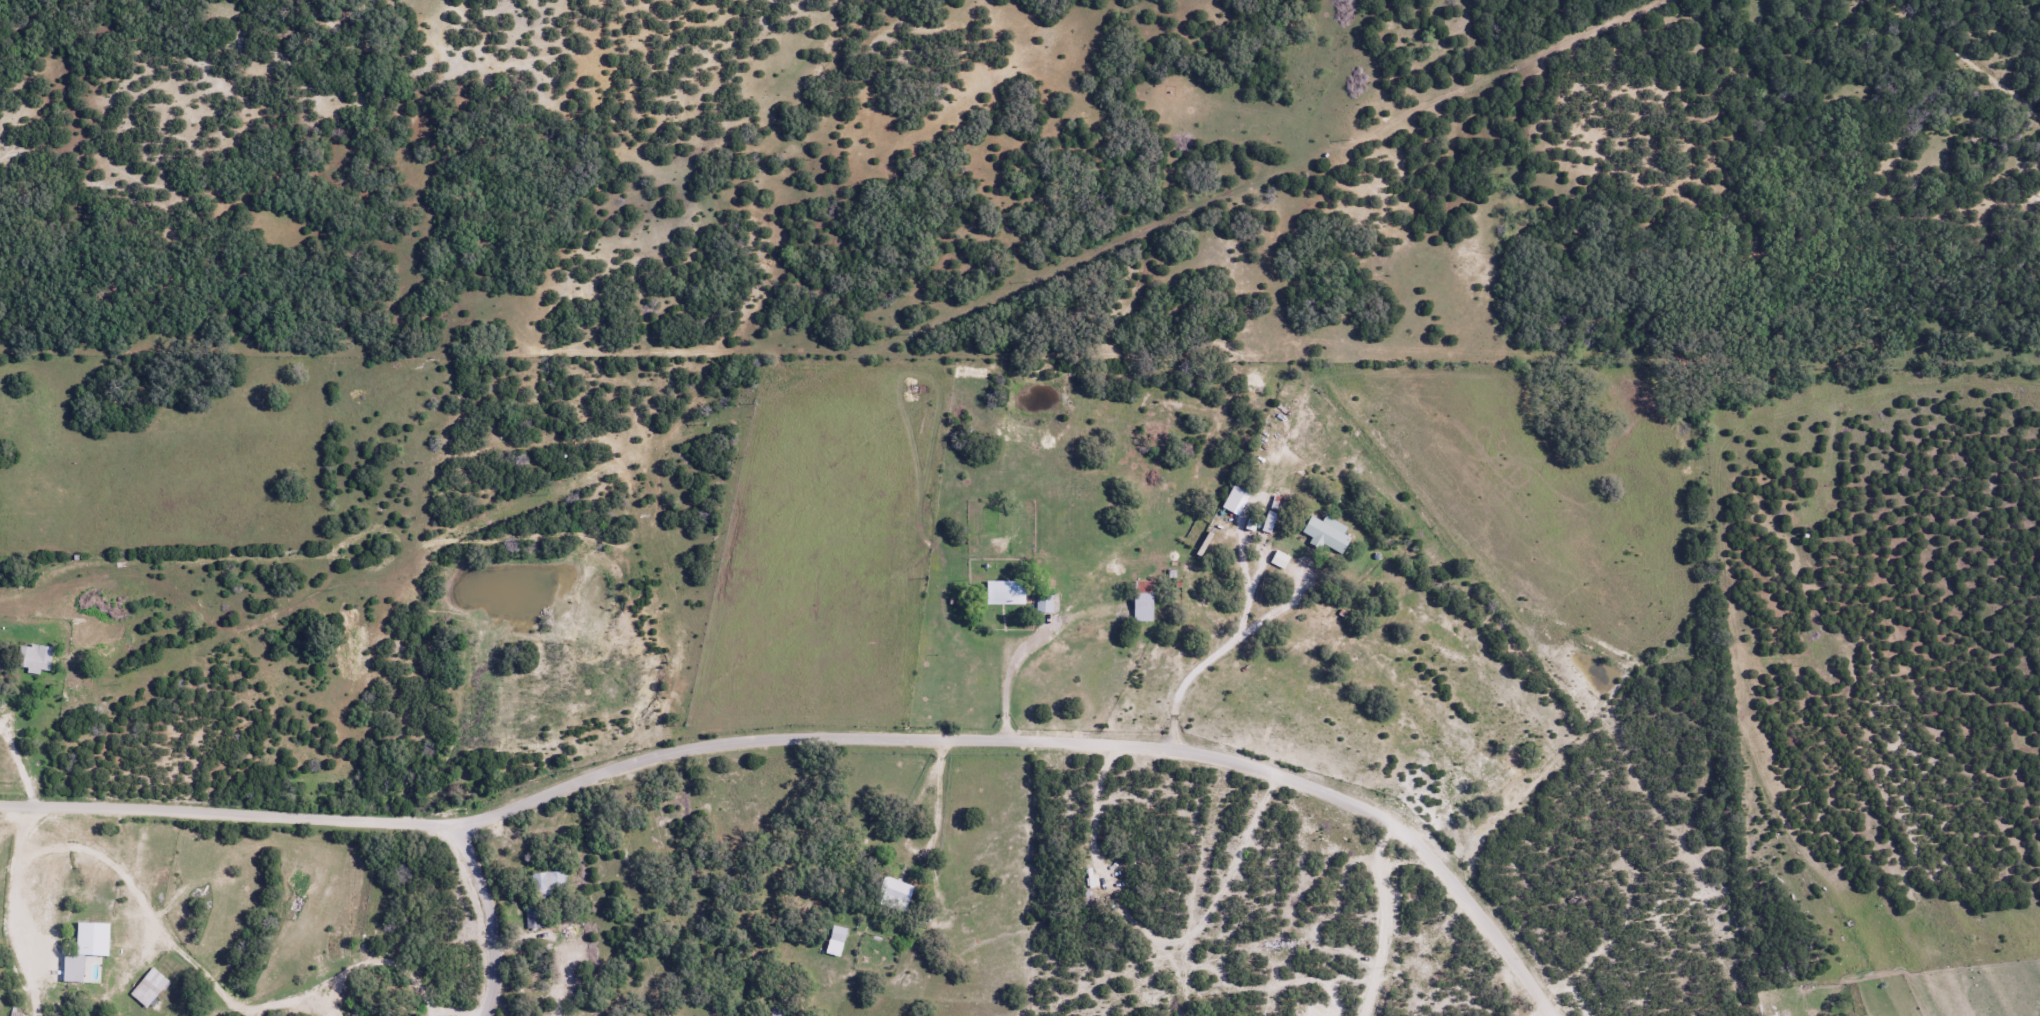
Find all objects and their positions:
building: (1268, 522)
building: (1324, 534)
building: (1002, 592)
building: (1141, 606)
building: (34, 657)
road: (1032, 738)
road: (53, 803)
road: (259, 812)
building: (549, 884)
building: (893, 892)
road: (491, 916)
building: (533, 921)
building: (835, 941)
building: (84, 949)
building: (148, 987)
road: (1543, 1011)
building: (16, 1013)
building: (381, 1014)

